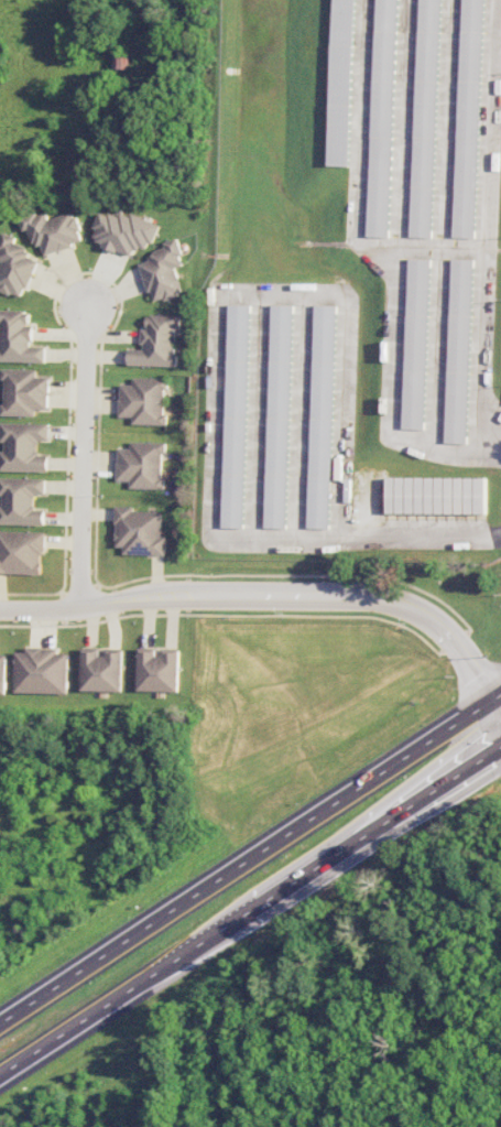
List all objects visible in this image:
building: (119, 61)
building: (342, 83)
building: (384, 118)
building: (426, 118)
building: (468, 118)
road: (362, 122)
road: (402, 218)
road: (487, 219)
road: (443, 225)
building: (53, 230)
building: (124, 231)
road: (422, 248)
building: (15, 267)
building: (163, 272)
road: (282, 294)
building: (19, 338)
building: (156, 342)
building: (417, 344)
building: (459, 350)
building: (25, 392)
building: (143, 401)
road: (213, 415)
building: (236, 415)
road: (259, 416)
building: (277, 416)
building: (320, 416)
road: (342, 418)
road: (299, 419)
building: (24, 447)
road: (84, 455)
road: (447, 456)
building: (142, 465)
building: (435, 495)
building: (21, 500)
building: (139, 531)
road: (353, 538)
building: (21, 552)
road: (268, 596)
building: (100, 669)
building: (157, 670)
building: (41, 671)
building: (2, 673)
road: (499, 700)
road: (397, 760)
road: (250, 911)
road: (148, 923)

